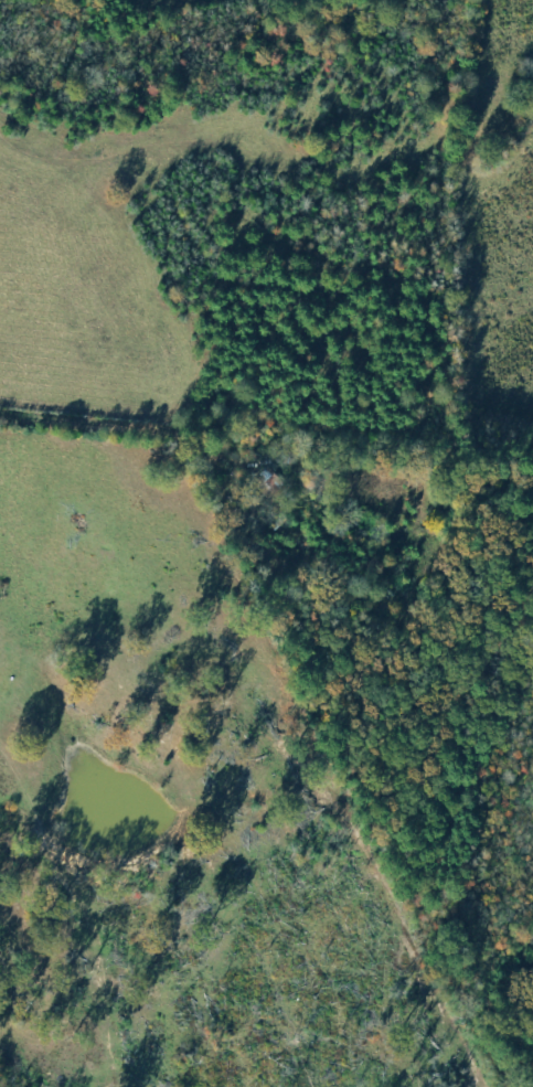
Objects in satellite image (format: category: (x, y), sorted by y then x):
road: (141, 459)

